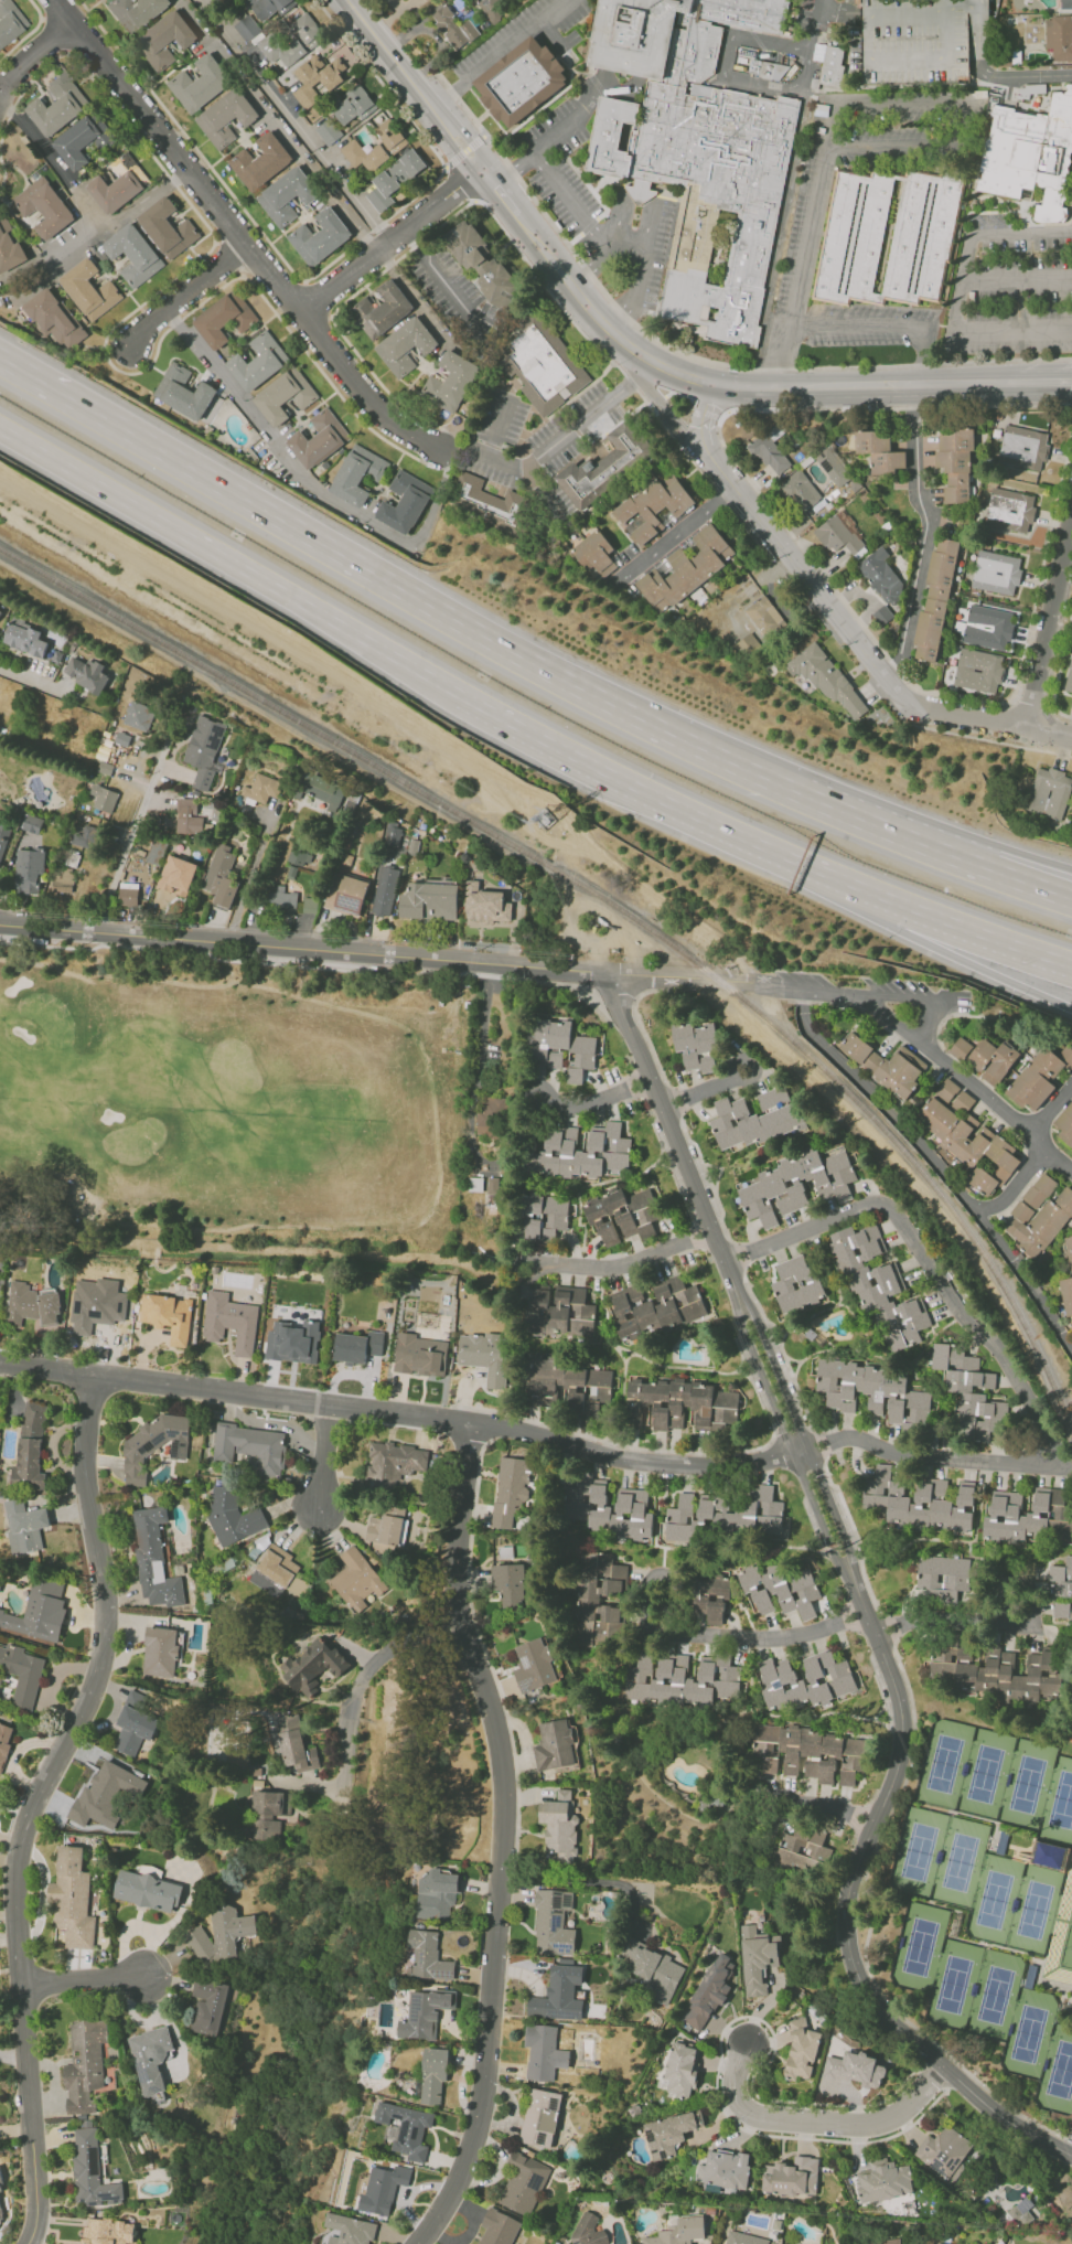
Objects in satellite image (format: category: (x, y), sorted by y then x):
building: (223, 1)
building: (1065, 4)
building: (268, 8)
building: (492, 9)
road: (840, 11)
building: (135, 12)
building: (9, 21)
road: (814, 24)
building: (453, 28)
building: (248, 29)
building: (1059, 39)
building: (164, 40)
building: (291, 40)
building: (915, 42)
parking lot: (915, 42)
road: (499, 52)
road: (28, 60)
building: (829, 62)
building: (759, 64)
road: (725, 70)
building: (321, 75)
road: (1019, 75)
building: (522, 82)
road: (415, 83)
building: (199, 84)
building: (57, 105)
building: (353, 105)
building: (225, 117)
road: (294, 120)
building: (328, 131)
building: (82, 140)
building: (375, 148)
road: (538, 150)
road: (462, 151)
building: (697, 151)
building: (1030, 156)
building: (260, 161)
road: (65, 174)
building: (394, 179)
building: (119, 184)
road: (458, 184)
building: (287, 195)
road: (570, 197)
road: (505, 199)
road: (646, 200)
road: (146, 202)
building: (43, 207)
road: (782, 210)
road: (810, 220)
building: (168, 227)
road: (237, 235)
building: (320, 237)
building: (887, 239)
road: (390, 241)
building: (9, 247)
road: (624, 253)
building: (133, 255)
road: (590, 261)
building: (481, 264)
road: (317, 273)
road: (1017, 280)
road: (444, 281)
building: (89, 289)
road: (960, 293)
road: (186, 295)
road: (631, 301)
road: (562, 307)
building: (380, 309)
building: (54, 319)
building: (224, 319)
road: (609, 328)
road: (853, 328)
building: (405, 345)
road: (689, 354)
road: (916, 355)
road: (780, 356)
building: (258, 362)
building: (538, 362)
building: (450, 382)
road: (1033, 383)
road: (853, 385)
building: (184, 392)
road: (66, 394)
building: (285, 396)
road: (689, 400)
road: (1069, 403)
road: (896, 407)
road: (671, 414)
building: (319, 439)
road: (550, 442)
building: (1022, 447)
road: (463, 449)
building: (879, 451)
building: (770, 452)
building: (955, 463)
building: (602, 466)
building: (833, 467)
building: (358, 474)
road: (311, 490)
building: (800, 491)
building: (405, 502)
building: (489, 503)
building: (653, 506)
building: (1009, 510)
road: (929, 533)
building: (838, 534)
road: (676, 535)
building: (593, 554)
road: (786, 554)
road: (231, 562)
building: (686, 568)
building: (996, 573)
building: (882, 576)
building: (935, 602)
building: (0, 608)
building: (882, 615)
building: (765, 617)
road: (459, 619)
building: (987, 627)
road: (1051, 632)
building: (24, 638)
building: (748, 643)
building: (978, 670)
building: (86, 673)
building: (825, 677)
building: (1069, 678)
road: (29, 680)
building: (138, 715)
road: (990, 722)
building: (204, 750)
road: (345, 761)
building: (104, 768)
building: (261, 788)
building: (320, 789)
building: (1048, 792)
building: (104, 798)
road: (664, 800)
building: (187, 816)
building: (32, 823)
road: (876, 824)
power tower: (548, 825)
building: (3, 835)
building: (85, 835)
road: (133, 835)
building: (398, 842)
building: (156, 852)
road: (1016, 853)
building: (300, 855)
building: (29, 869)
building: (176, 875)
building: (222, 876)
road: (250, 877)
road: (1016, 878)
building: (62, 880)
building: (385, 890)
building: (128, 894)
building: (345, 894)
building: (429, 899)
building: (286, 901)
building: (308, 904)
railway: (612, 905)
building: (485, 906)
road: (972, 930)
road: (304, 948)
road: (964, 962)
road: (317, 963)
road: (698, 971)
road: (682, 976)
road: (717, 987)
road: (617, 991)
road: (669, 992)
road: (860, 995)
road: (928, 1023)
road: (643, 1033)
building: (696, 1046)
building: (570, 1047)
building: (960, 1048)
building: (991, 1060)
road: (475, 1064)
building: (885, 1065)
building: (1039, 1077)
road: (966, 1081)
road: (706, 1089)
building: (955, 1096)
road: (599, 1099)
road: (673, 1101)
park: (226, 1105)
road: (1053, 1109)
building: (491, 1116)
building: (754, 1118)
building: (1065, 1124)
building: (967, 1137)
road: (941, 1166)
road: (707, 1177)
building: (983, 1180)
building: (475, 1184)
building: (492, 1185)
building: (794, 1185)
road: (1016, 1188)
building: (1039, 1190)
road: (932, 1195)
building: (555, 1215)
building: (622, 1215)
building: (1040, 1221)
building: (533, 1225)
road: (736, 1258)
road: (623, 1262)
road: (926, 1262)
building: (1066, 1281)
building: (796, 1284)
building: (877, 1286)
building: (31, 1304)
building: (654, 1307)
building: (168, 1315)
building: (229, 1322)
building: (293, 1342)
building: (357, 1346)
road: (781, 1350)
building: (419, 1355)
building: (484, 1356)
building: (568, 1385)
building: (871, 1391)
building: (968, 1392)
road: (404, 1414)
building: (154, 1445)
building: (250, 1446)
road: (817, 1446)
building: (30, 1450)
road: (928, 1455)
road: (325, 1457)
building: (395, 1462)
building: (511, 1489)
building: (920, 1504)
building: (612, 1510)
building: (233, 1516)
building: (726, 1516)
building: (1026, 1517)
building: (24, 1525)
building: (387, 1526)
road: (855, 1536)
power tower: (836, 1547)
building: (153, 1560)
building: (277, 1564)
building: (942, 1578)
building: (356, 1580)
building: (510, 1583)
building: (780, 1590)
building: (1062, 1590)
road: (864, 1597)
building: (712, 1599)
building: (589, 1600)
building: (39, 1610)
road: (451, 1618)
road: (994, 1622)
road: (886, 1629)
road: (682, 1633)
building: (161, 1652)
building: (312, 1665)
building: (534, 1665)
building: (997, 1674)
building: (21, 1675)
building: (807, 1679)
road: (361, 1680)
building: (680, 1680)
building: (133, 1723)
building: (1071, 1740)
building: (4, 1741)
building: (296, 1745)
building: (554, 1745)
building: (810, 1754)
park: (944, 1763)
park: (985, 1774)
park: (1028, 1785)
building: (105, 1794)
road: (35, 1796)
park: (1063, 1802)
road: (818, 1804)
building: (268, 1814)
building: (558, 1827)
road: (503, 1837)
building: (803, 1850)
park: (919, 1851)
building: (1050, 1855)
park: (961, 1861)
road: (586, 1880)
building: (147, 1891)
building: (435, 1894)
building: (72, 1898)
park: (995, 1900)
park: (1033, 1910)
building: (553, 1923)
building: (221, 1934)
road: (865, 1938)
park: (920, 1947)
building: (427, 1955)
building: (757, 1959)
building: (653, 1971)
road: (86, 1980)
park: (953, 1985)
building: (558, 1994)
building: (707, 1994)
park: (995, 1995)
building: (207, 2006)
building: (425, 2012)
park: (1029, 2033)
building: (801, 2051)
building: (150, 2058)
building: (84, 2064)
building: (680, 2069)
building: (855, 2069)
park: (1061, 2071)
building: (433, 2074)
building: (540, 2117)
road: (817, 2125)
building: (406, 2128)
building: (667, 2134)
road: (1066, 2141)
building: (943, 2150)
building: (723, 2169)
building: (791, 2177)
building: (882, 2180)
building: (523, 2183)
building: (383, 2189)
building: (1021, 2212)
building: (499, 2227)
building: (350, 2230)
building: (588, 2231)
building: (679, 2231)
building: (107, 2232)
road: (34, 2236)
building: (743, 2238)
building: (880, 2242)
building: (936, 2243)

